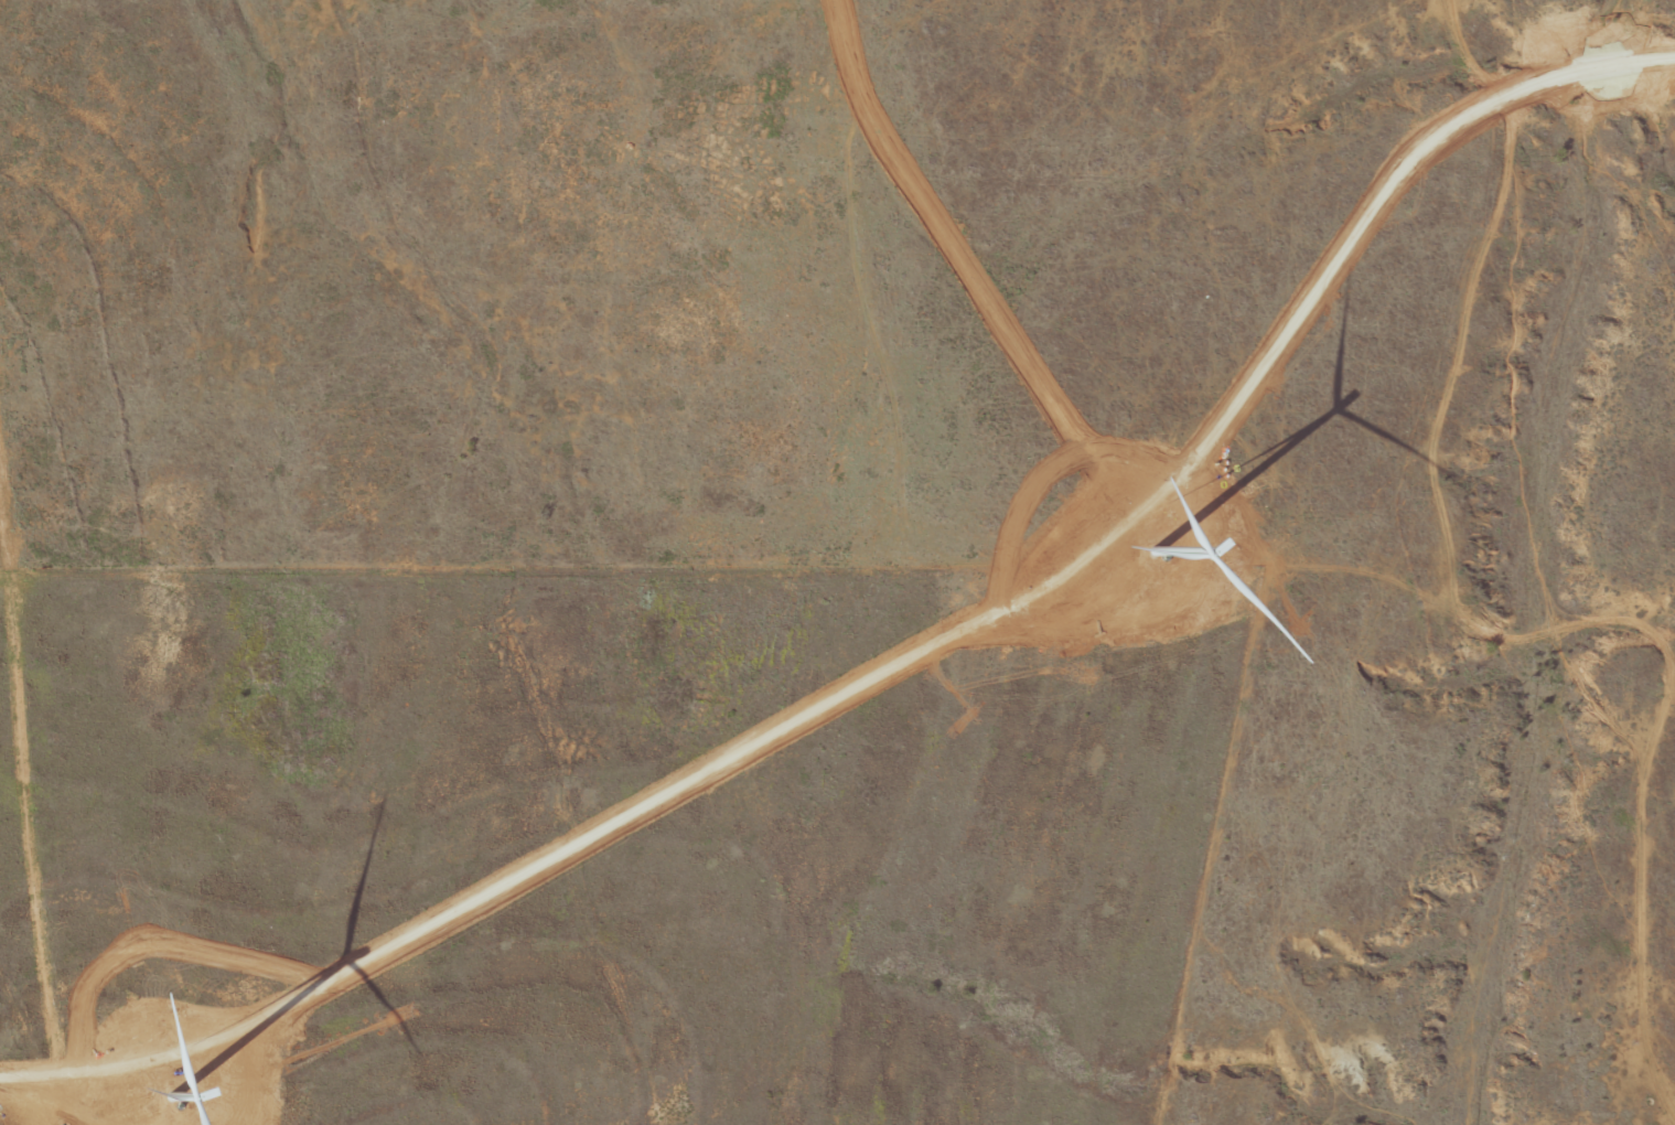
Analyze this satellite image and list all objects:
wind turbine: (1155, 551)
road: (689, 557)
wind turbine: (173, 1099)

